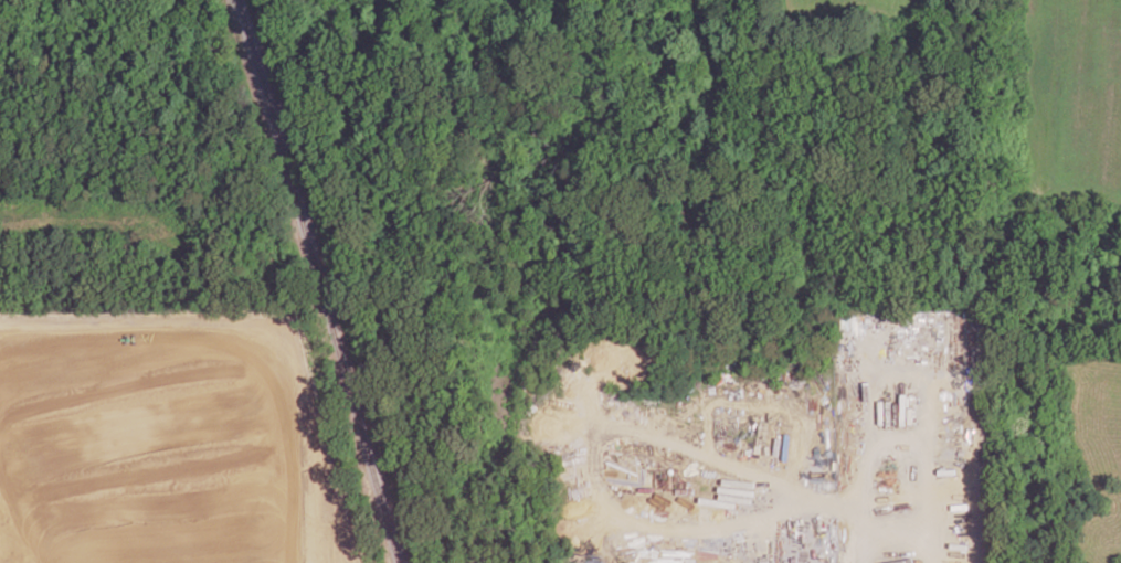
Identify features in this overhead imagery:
railway: (313, 257)
road: (248, 338)
building: (113, 527)
railway: (392, 539)
building: (898, 561)

